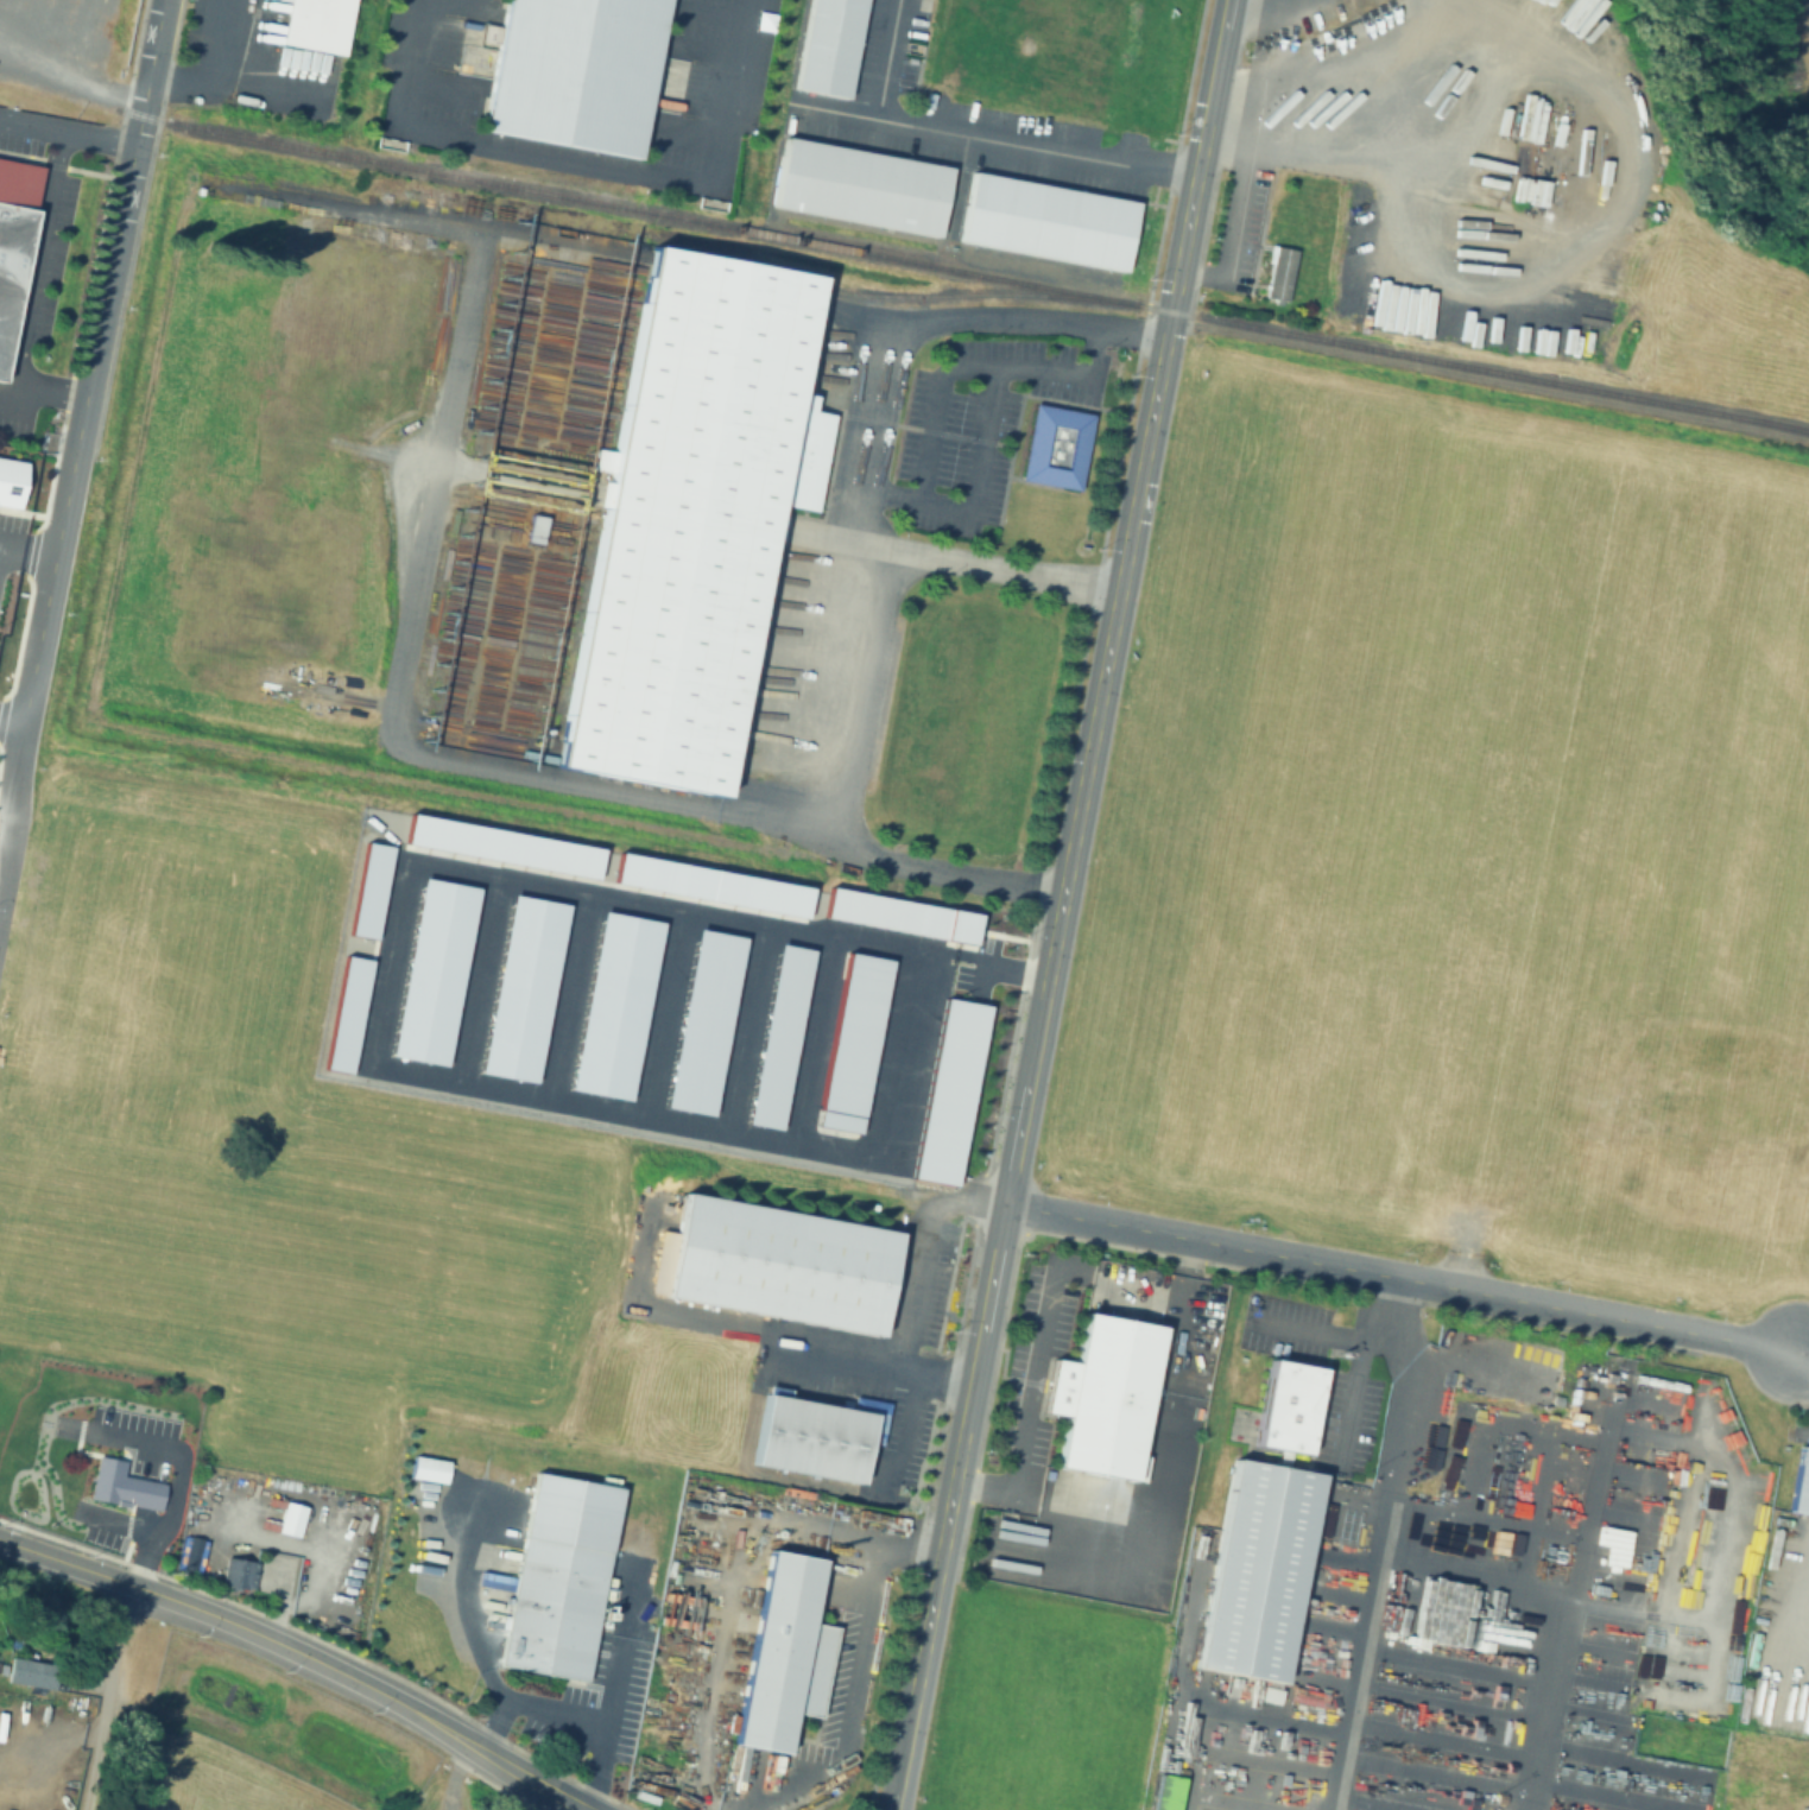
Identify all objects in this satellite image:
road: (1242, 4)
building: (314, 25)
building: (824, 46)
railway: (6, 58)
road: (886, 59)
road: (204, 65)
building: (570, 70)
railway: (39, 74)
road: (259, 82)
road: (1468, 119)
road: (67, 132)
road: (992, 140)
road: (1197, 157)
road: (584, 160)
building: (856, 186)
road: (348, 205)
railway: (438, 213)
road: (1618, 215)
building: (1043, 221)
building: (12, 232)
road: (1231, 235)
railway: (900, 262)
railway: (728, 270)
building: (1277, 271)
road: (33, 273)
railway: (970, 296)
road: (49, 388)
road: (986, 425)
building: (1051, 445)
road: (71, 464)
building: (11, 483)
building: (685, 518)
building: (531, 526)
road: (27, 556)
road: (983, 569)
road: (13, 728)
road: (1087, 758)
road: (728, 817)
crop: (1456, 842)
building: (518, 852)
road: (925, 878)
building: (725, 891)
building: (385, 895)
building: (909, 913)
building: (447, 979)
road: (494, 979)
building: (538, 994)
road: (583, 995)
road: (398, 1000)
building: (626, 1011)
road: (675, 1012)
building: (361, 1018)
building: (710, 1020)
road: (753, 1026)
building: (786, 1034)
road: (822, 1038)
building: (860, 1039)
building: (957, 1089)
road: (966, 1191)
building: (777, 1262)
road: (1402, 1277)
road: (1315, 1329)
road: (900, 1349)
road: (1804, 1357)
road: (835, 1362)
building: (1538, 1377)
road: (5, 1379)
road: (937, 1379)
road: (969, 1391)
building: (1100, 1394)
road: (1342, 1396)
building: (1283, 1404)
road: (1027, 1416)
building: (815, 1432)
road: (159, 1448)
building: (1, 1466)
road: (1156, 1475)
building: (1799, 1482)
building: (124, 1489)
road: (1025, 1495)
building: (289, 1518)
road: (116, 1524)
building: (1253, 1568)
building: (236, 1571)
building: (555, 1576)
road: (242, 1629)
road: (474, 1639)
building: (780, 1653)
road: (1355, 1664)
road: (856, 1667)
building: (29, 1672)
road: (614, 1691)
road: (106, 1696)
road: (913, 1696)
road: (555, 1713)
road: (454, 1774)
road: (530, 1778)

